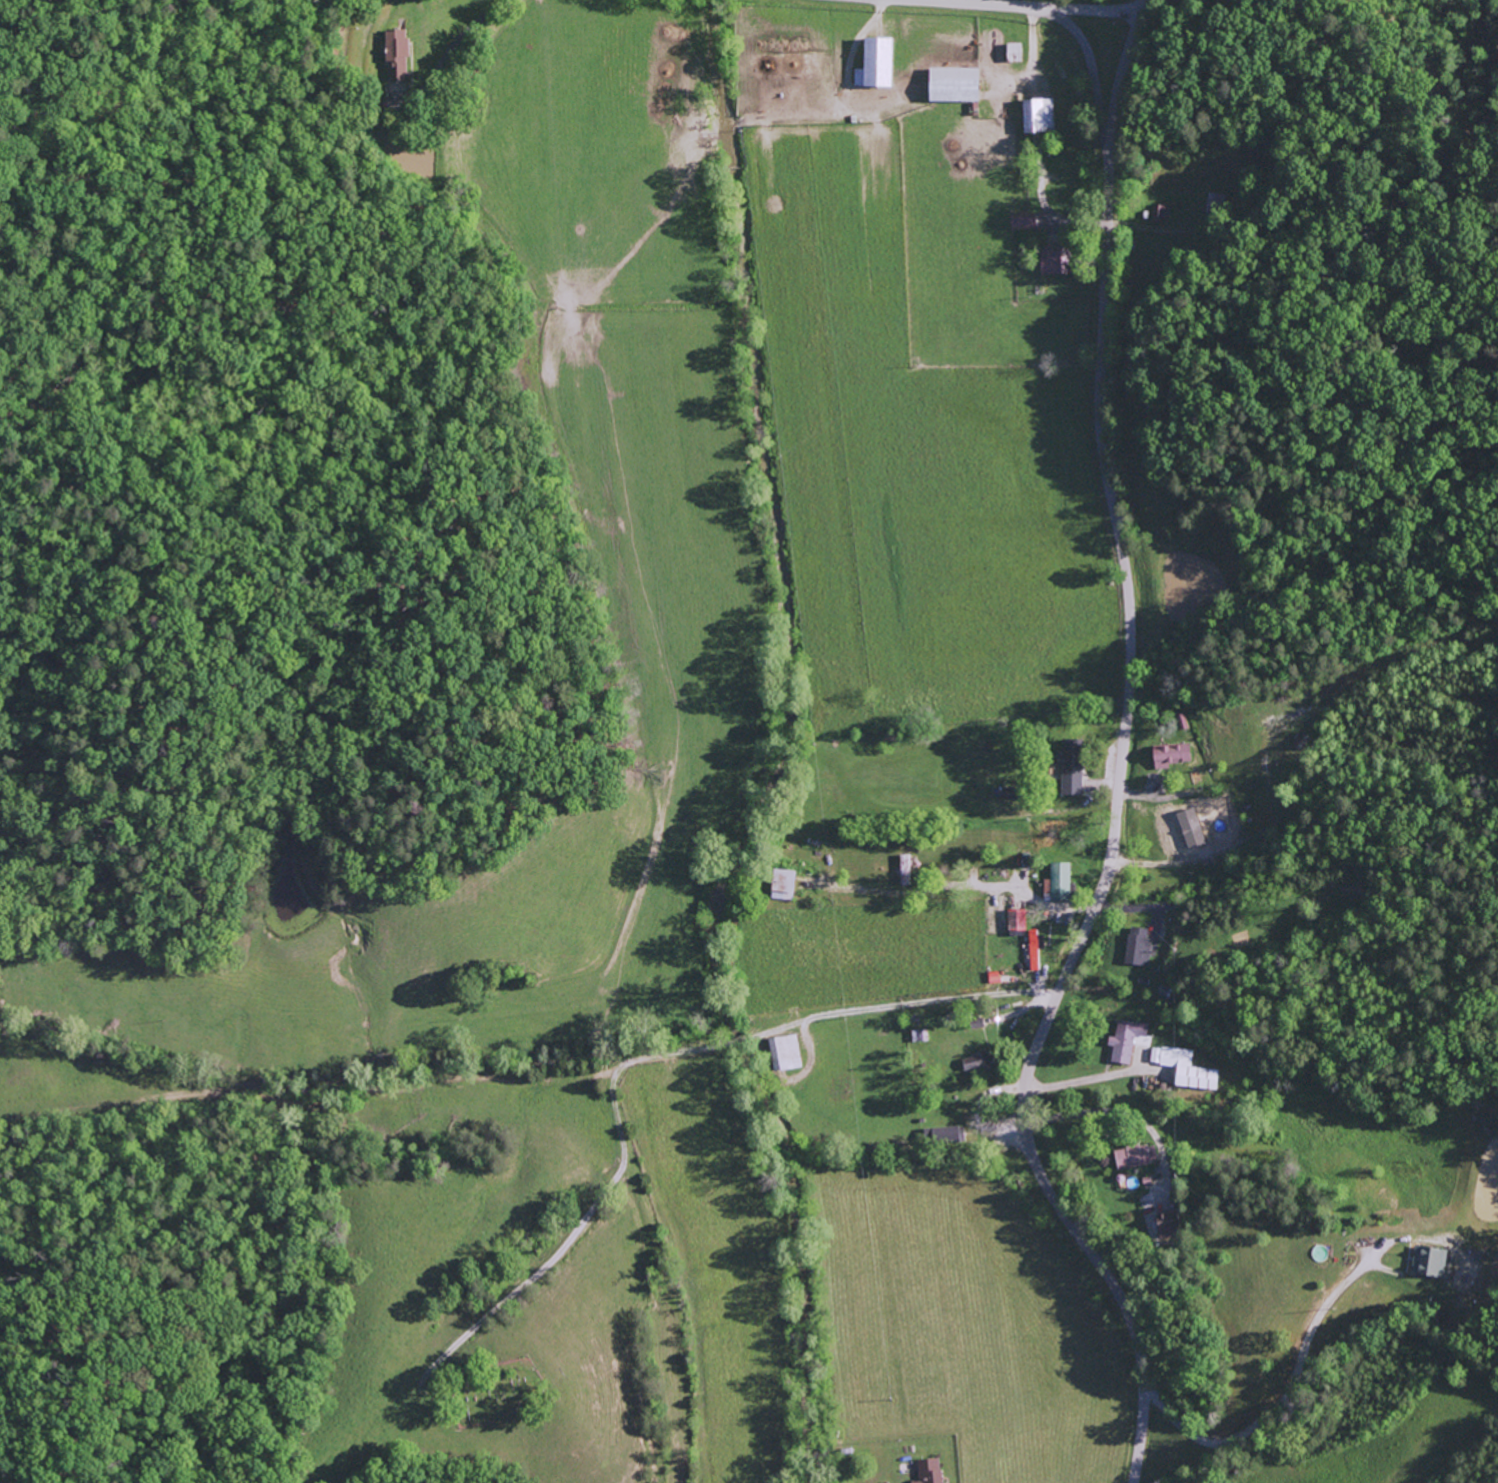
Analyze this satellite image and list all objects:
road: (1037, 6)
road: (1142, 7)
building: (1019, 54)
road: (1087, 56)
building: (882, 67)
road: (1119, 74)
building: (960, 86)
building: (1043, 117)
road: (1266, 161)
building: (1162, 214)
building: (1029, 221)
building: (1058, 262)
road: (1071, 548)
road: (1055, 572)
building: (1174, 756)
building: (1075, 767)
road: (1112, 831)
building: (907, 871)
building: (1063, 883)
building: (788, 886)
building: (1021, 921)
building: (1142, 948)
building: (1039, 950)
road: (1023, 993)
road: (963, 999)
building: (1128, 1040)
building: (789, 1054)
building: (981, 1062)
building: (1188, 1069)
building: (950, 1136)
building: (1140, 1157)
building: (1172, 1225)
building: (1434, 1262)
road: (1317, 1281)
park: (497, 1390)
building: (934, 1471)

